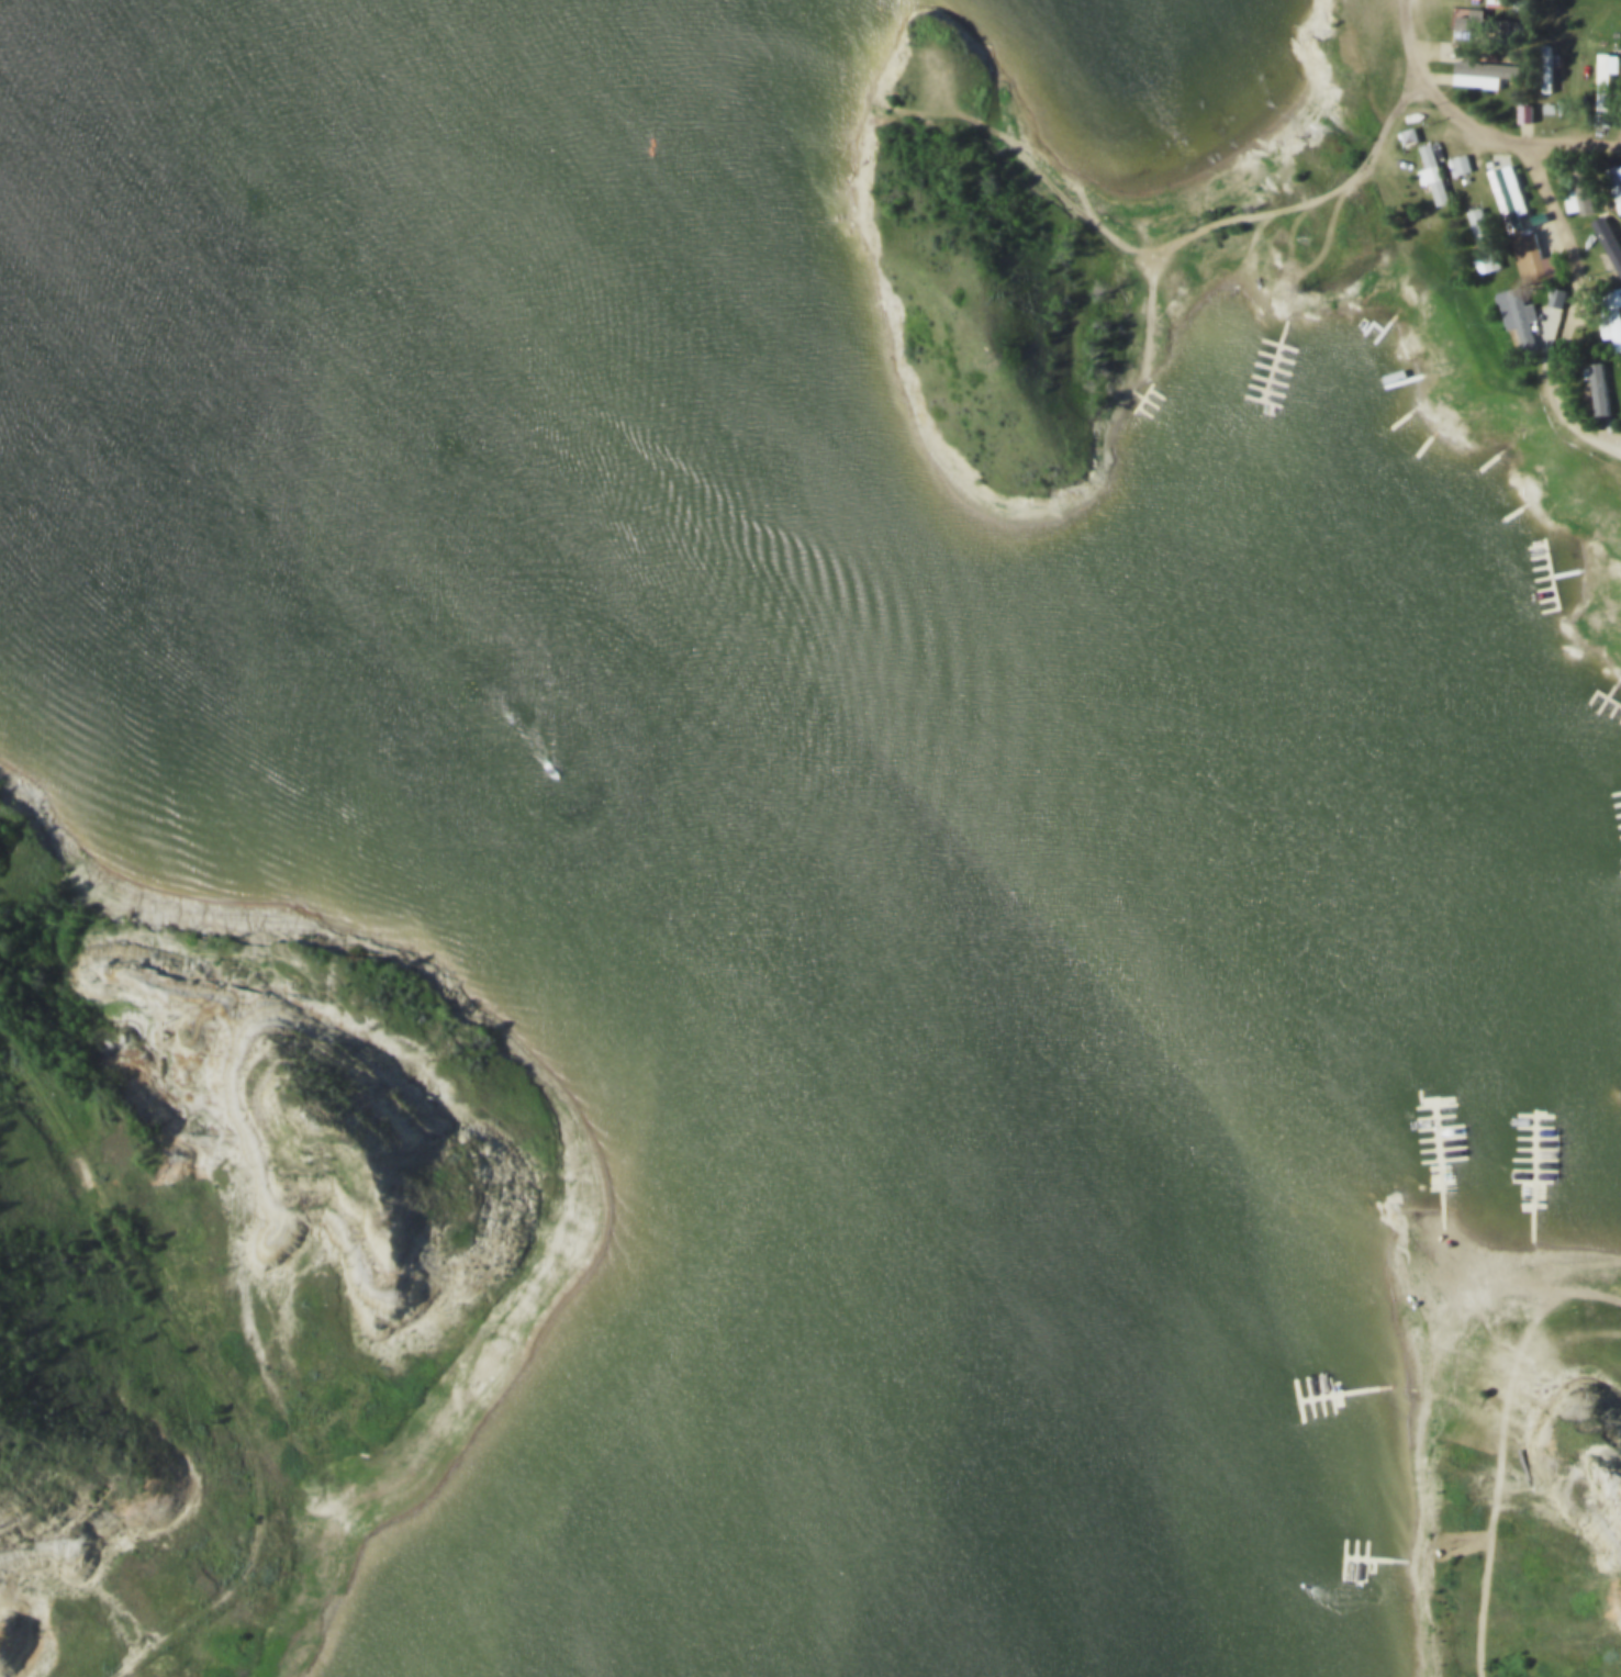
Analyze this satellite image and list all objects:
building: (1496, 1)
building: (1490, 20)
building: (1480, 26)
building: (1516, 29)
building: (1484, 65)
building: (1546, 65)
building: (1513, 71)
building: (1606, 74)
building: (1549, 103)
building: (1525, 108)
road: (1474, 127)
building: (1409, 132)
building: (1463, 158)
building: (1433, 170)
building: (1614, 181)
building: (1573, 197)
building: (1511, 202)
building: (1478, 217)
building: (1611, 236)
road: (1167, 237)
building: (1533, 256)
building: (1557, 292)
building: (1609, 309)
building: (1554, 310)
road: (1573, 311)
building: (1522, 312)
pier: (1230, 371)
building: (1600, 385)
road: (384, 895)
pier: (1419, 1115)
pier: (1511, 1138)
road: (147, 1288)
road: (487, 1428)
road: (529, 1502)
road: (242, 1589)

